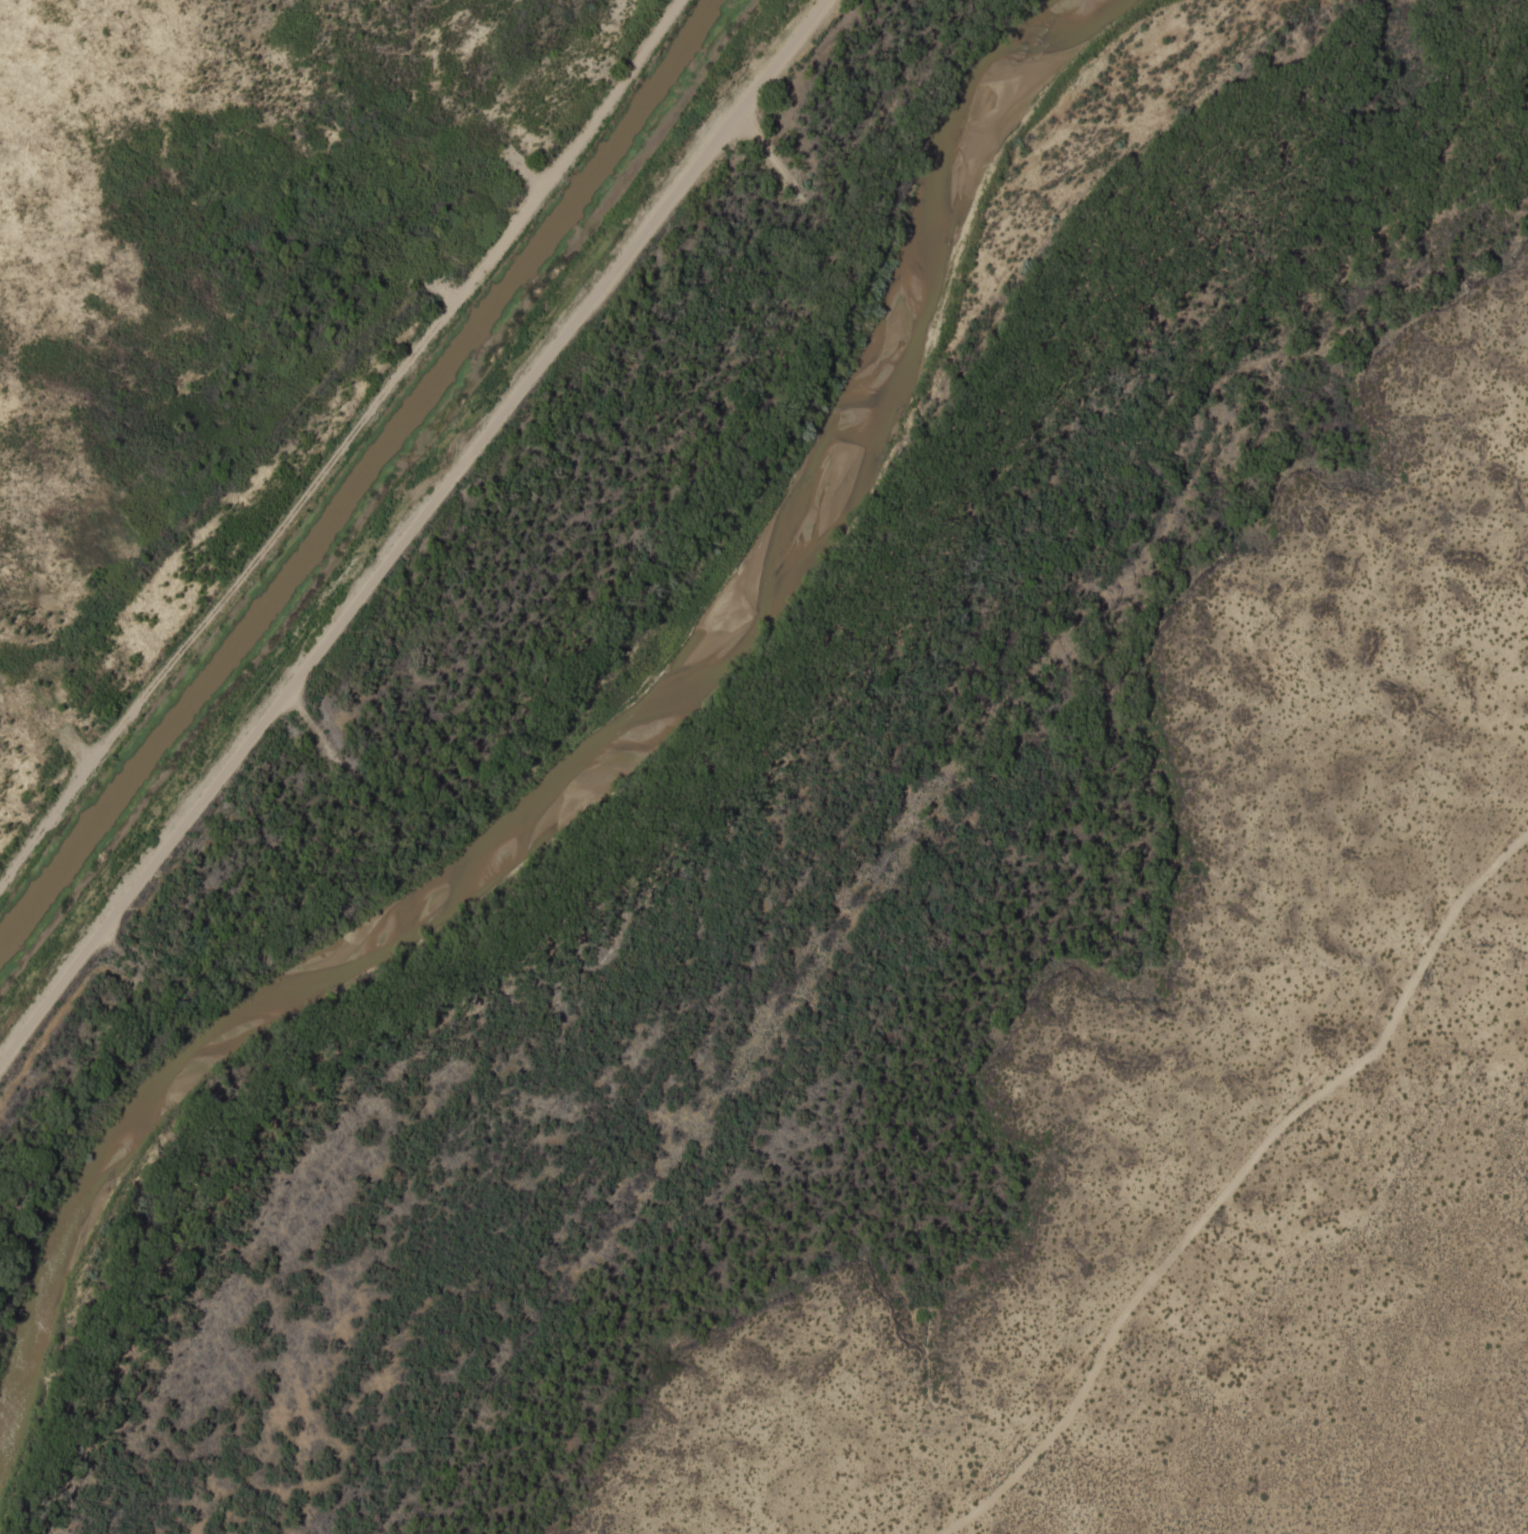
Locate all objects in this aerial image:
road: (337, 438)
road: (403, 529)
river: (590, 758)

